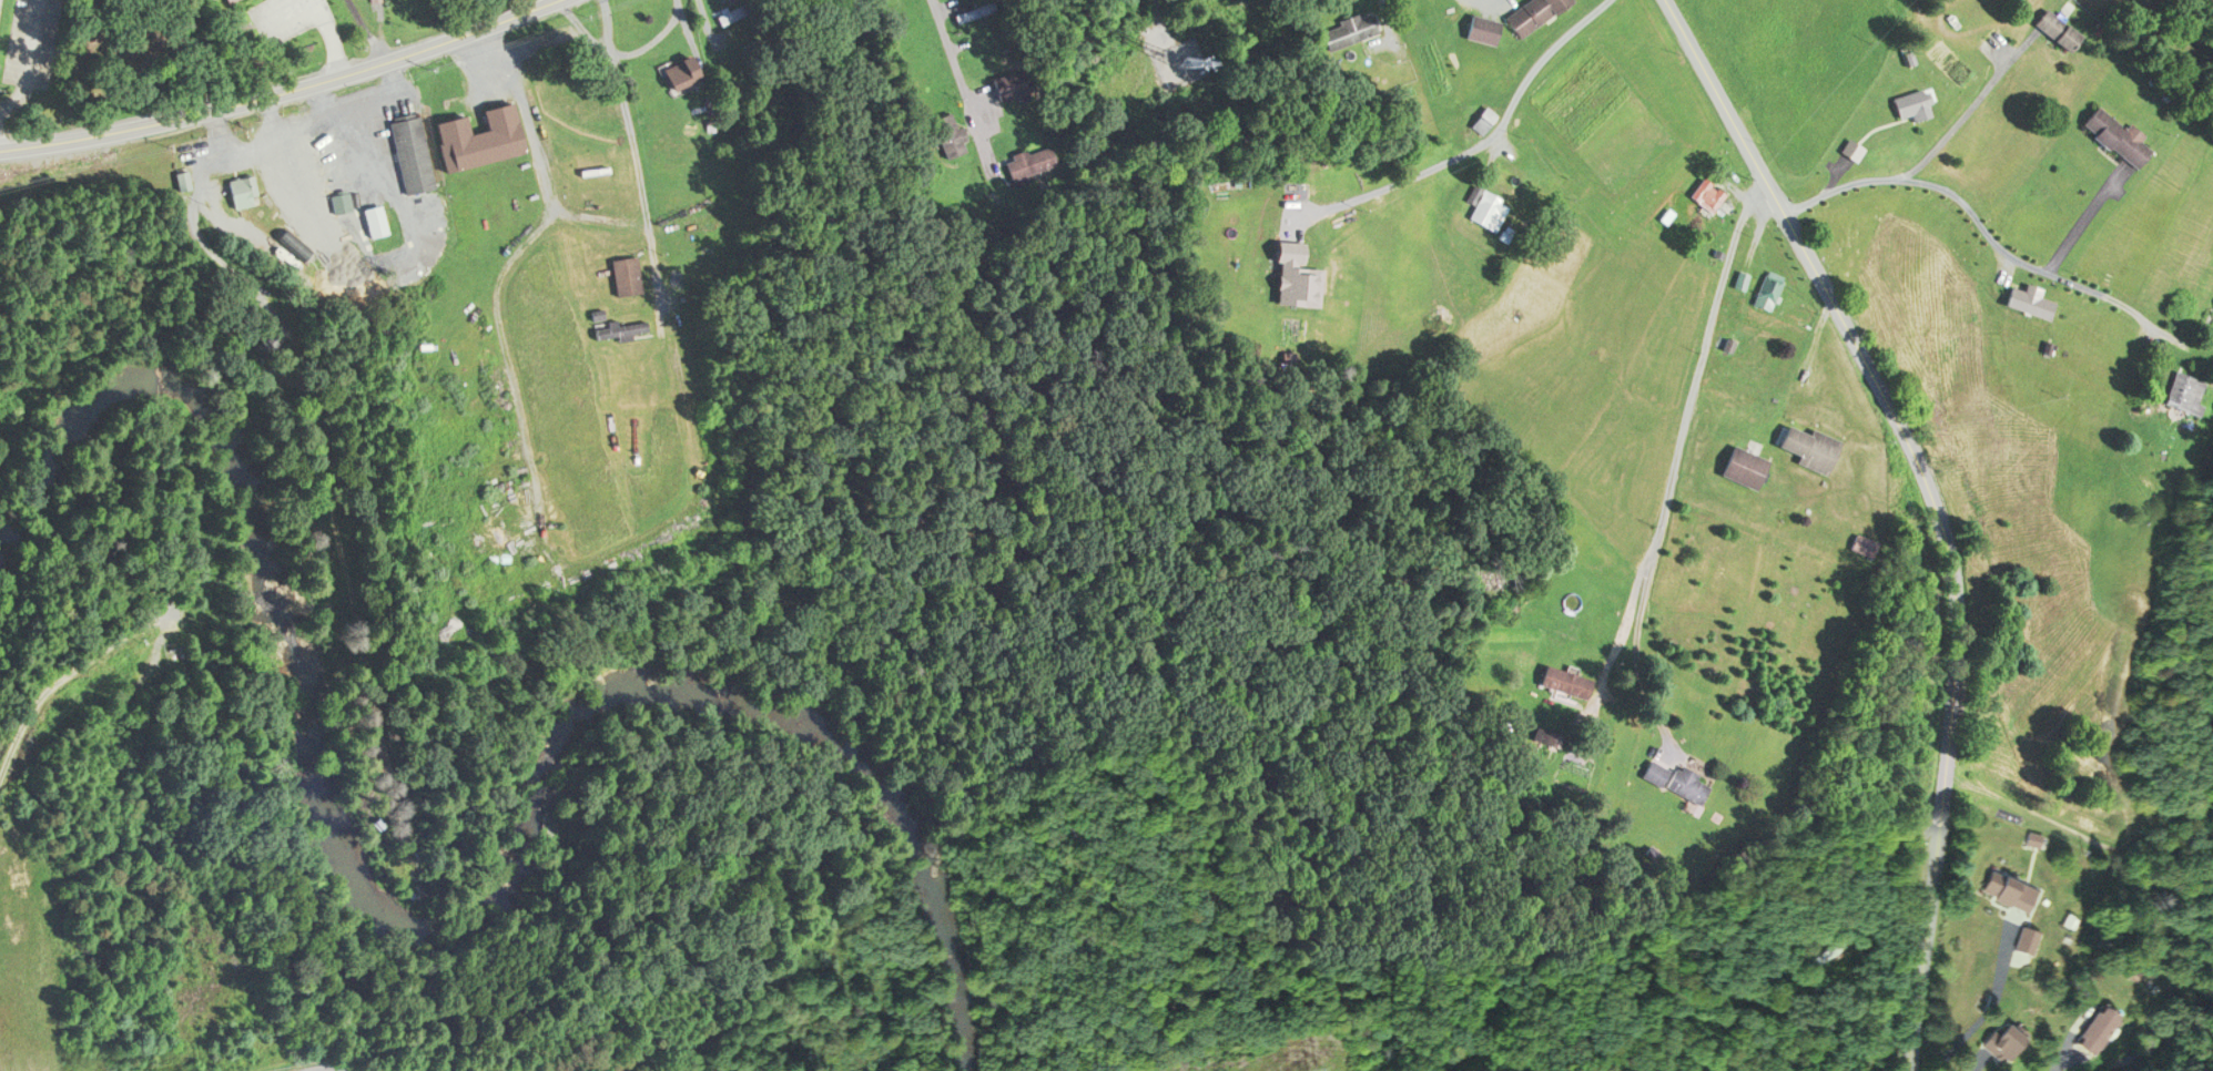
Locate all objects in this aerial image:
building: (220, 0)
building: (742, 7)
building: (979, 9)
building: (1536, 12)
building: (2060, 20)
building: (1489, 28)
building: (2052, 28)
building: (1351, 29)
road: (369, 32)
road: (654, 37)
road: (28, 62)
building: (686, 62)
road: (960, 75)
building: (1014, 80)
road: (285, 92)
building: (1918, 99)
building: (1483, 118)
building: (2122, 126)
building: (485, 130)
road: (1948, 130)
building: (953, 131)
road: (1480, 143)
building: (417, 150)
road: (633, 153)
building: (1035, 159)
building: (297, 173)
building: (186, 175)
building: (180, 178)
building: (245, 187)
building: (1712, 187)
building: (338, 201)
building: (1486, 202)
building: (380, 215)
road: (2083, 216)
road: (599, 217)
road: (197, 220)
road: (1992, 236)
building: (298, 242)
building: (631, 267)
building: (1301, 267)
road: (500, 274)
building: (1772, 285)
building: (2034, 296)
building: (626, 324)
building: (274, 337)
building: (2190, 369)
building: (2182, 391)
road: (1687, 410)
building: (1818, 439)
building: (1748, 457)
road: (1937, 504)
road: (71, 665)
building: (1571, 674)
building: (1685, 767)
building: (1685, 784)
building: (2012, 886)
river: (447, 926)
building: (2030, 931)
building: (1829, 945)
building: (2100, 1030)
building: (2010, 1032)
river: (2172, 1039)

